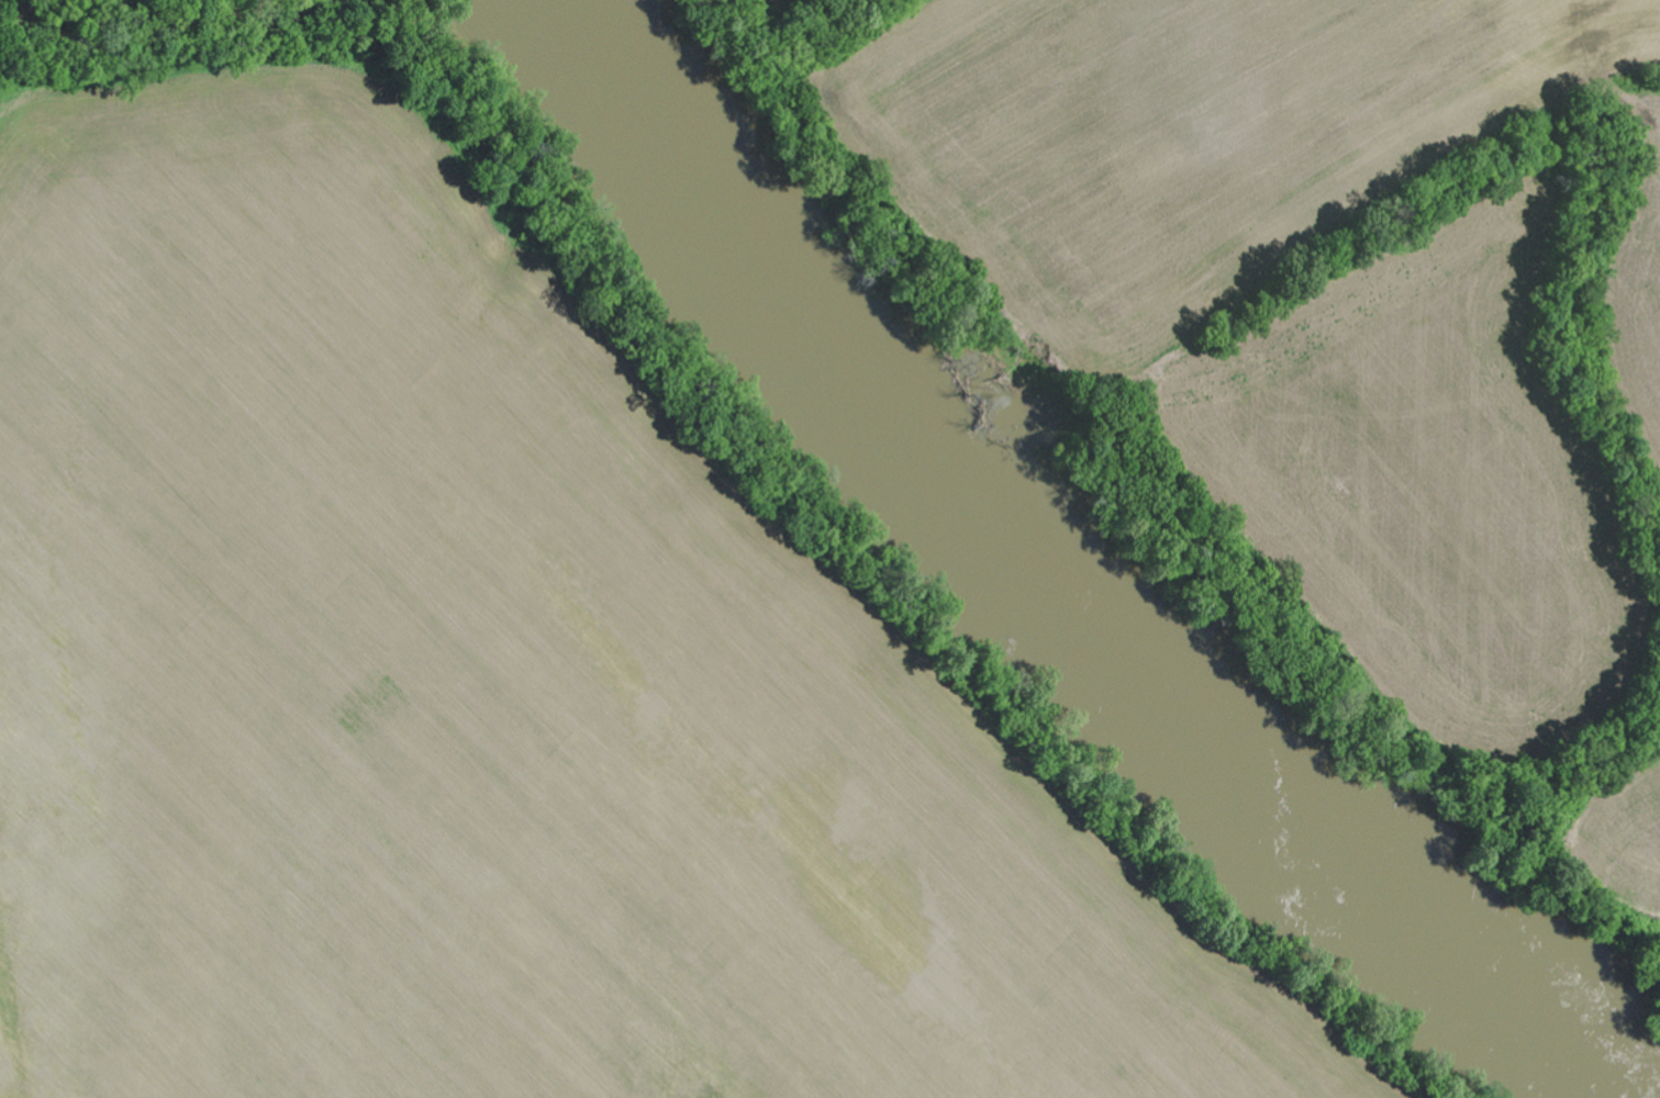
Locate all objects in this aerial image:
river: (1039, 585)

